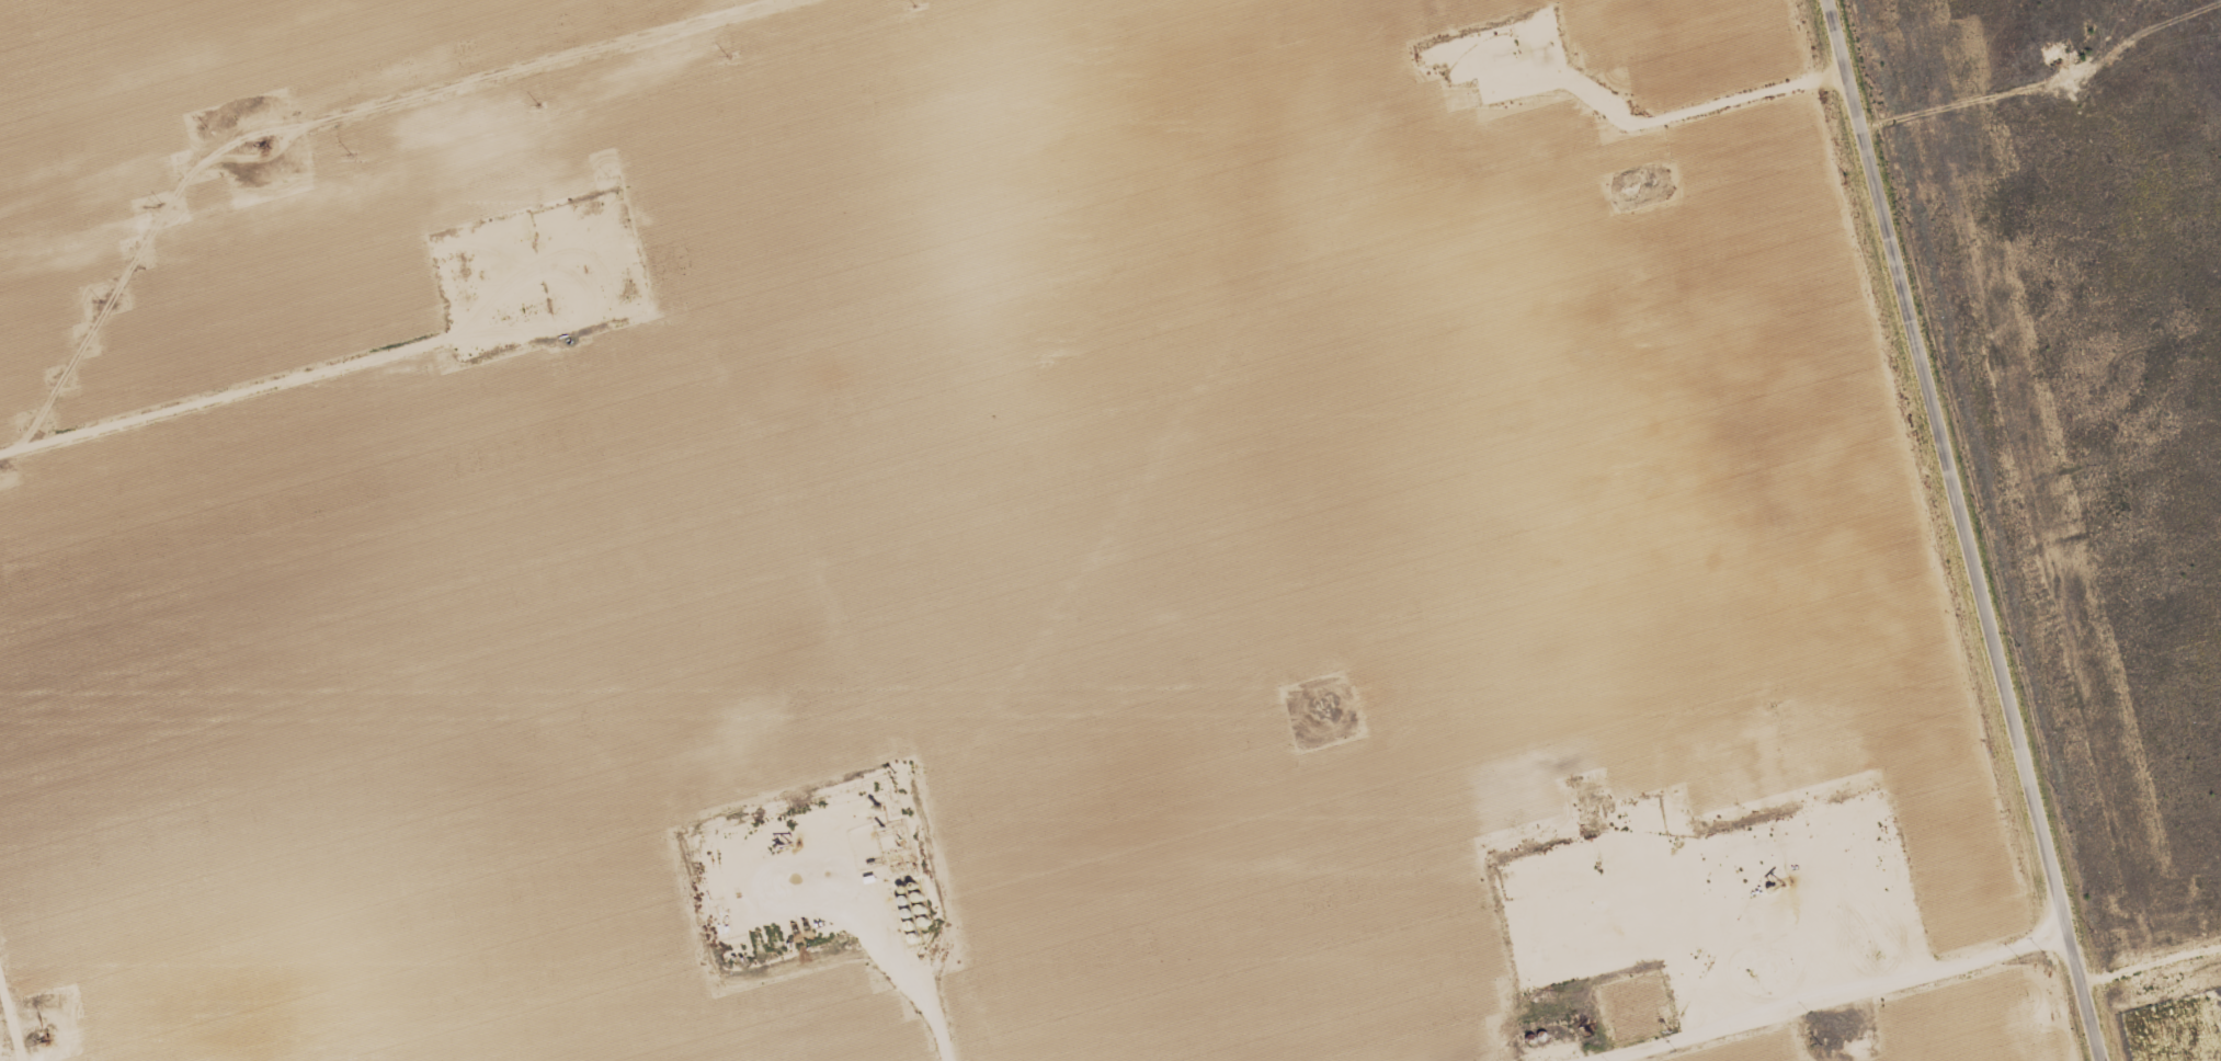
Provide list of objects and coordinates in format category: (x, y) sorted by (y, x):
road: (2038, 180)
road: (1967, 530)

